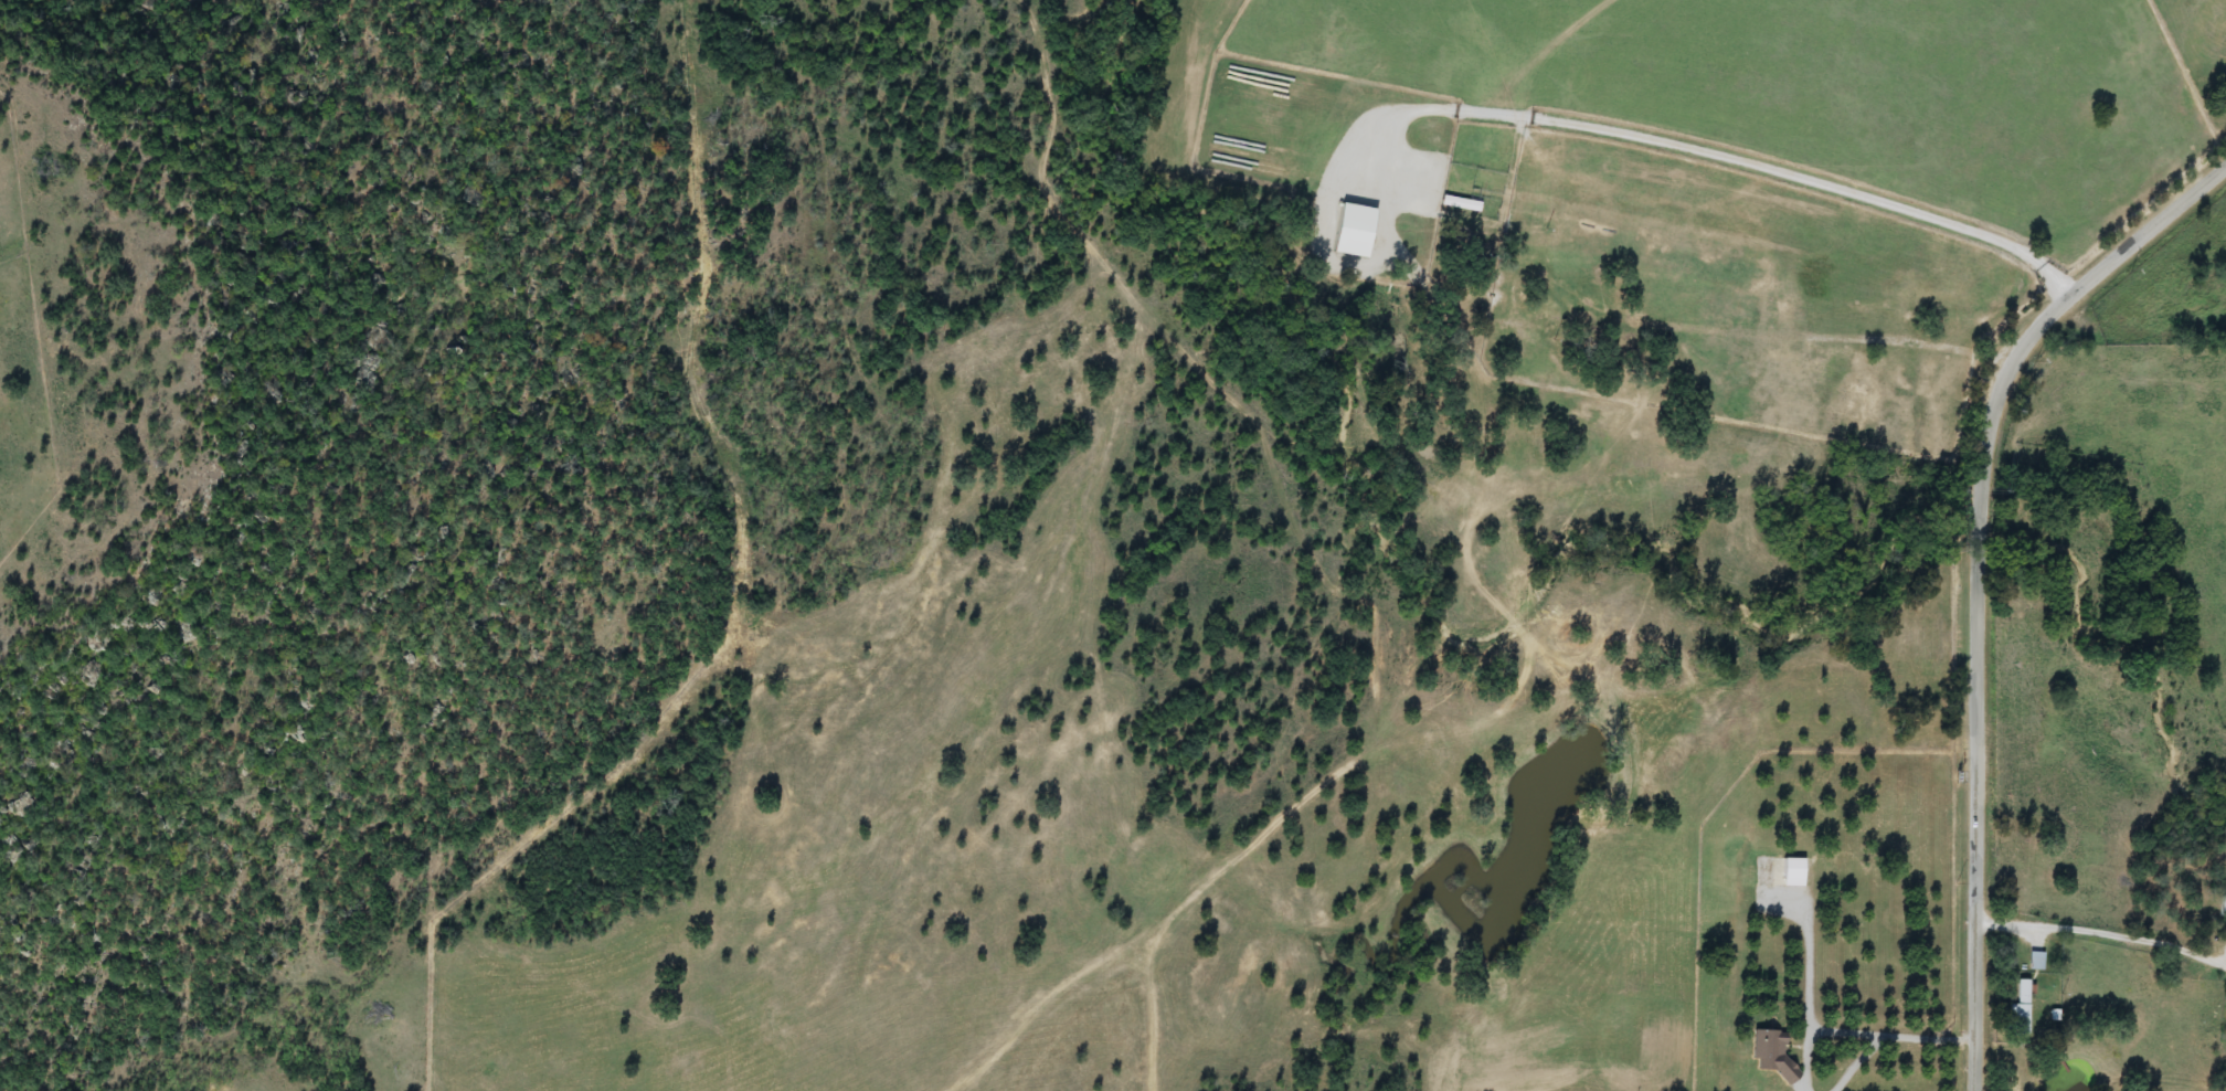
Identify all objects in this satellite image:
road: (1711, 146)
crop: (1717, 176)
building: (1354, 237)
building: (1480, 289)
road: (2057, 307)
building: (1539, 388)
road: (1981, 523)
road: (1978, 814)
building: (1787, 885)
building: (2224, 909)
road: (2103, 941)
building: (2036, 961)
building: (2020, 1013)
building: (1764, 1067)

